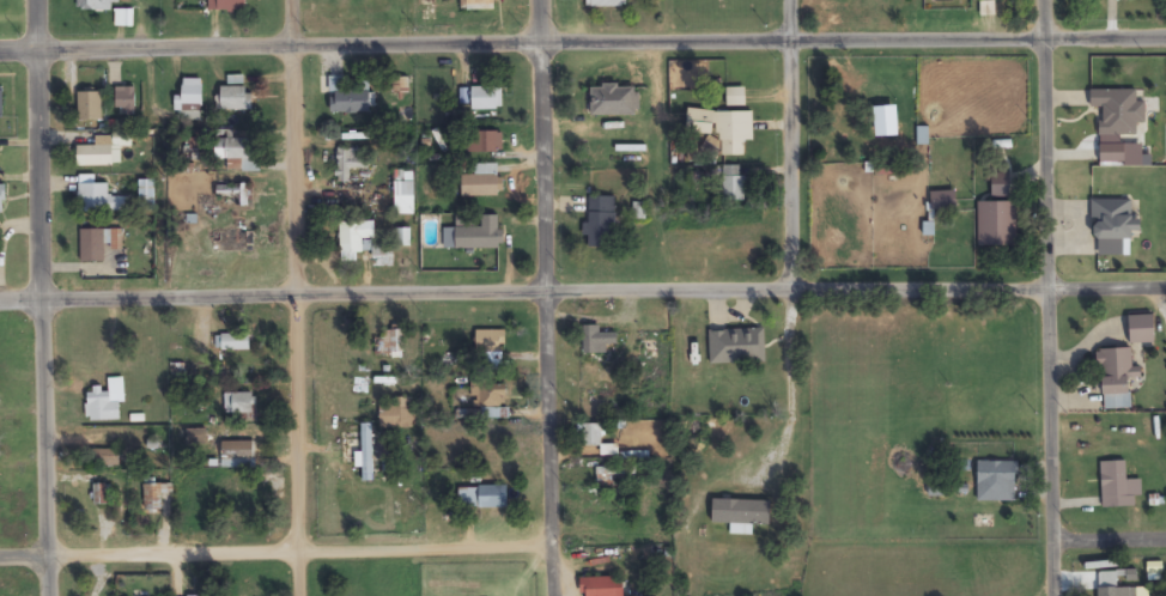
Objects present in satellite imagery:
building: (836, 0)
building: (350, 4)
building: (606, 4)
building: (95, 5)
building: (231, 5)
building: (481, 5)
building: (123, 18)
road: (582, 39)
building: (236, 98)
building: (348, 98)
building: (125, 99)
building: (486, 99)
building: (1, 102)
building: (190, 102)
building: (614, 102)
building: (90, 107)
building: (1117, 111)
building: (734, 133)
building: (840, 134)
building: (482, 142)
road: (785, 145)
building: (103, 152)
building: (235, 152)
building: (347, 164)
building: (482, 181)
building: (733, 184)
building: (146, 196)
building: (98, 197)
building: (2, 199)
building: (1112, 220)
building: (600, 223)
building: (996, 224)
building: (475, 236)
building: (354, 239)
building: (235, 242)
building: (92, 247)
building: (382, 256)
road: (582, 291)
road: (299, 297)
road: (543, 297)
road: (1046, 297)
road: (37, 298)
building: (1141, 328)
building: (596, 340)
building: (490, 341)
building: (235, 343)
building: (391, 343)
building: (736, 346)
building: (1116, 377)
building: (496, 395)
building: (105, 402)
building: (239, 403)
building: (396, 415)
building: (590, 434)
building: (194, 438)
building: (359, 446)
building: (237, 455)
building: (105, 458)
building: (996, 481)
building: (1117, 486)
building: (243, 493)
building: (102, 494)
building: (156, 494)
building: (482, 497)
building: (740, 511)
road: (1107, 542)
road: (273, 547)
building: (1153, 571)
building: (1112, 585)
building: (602, 586)

